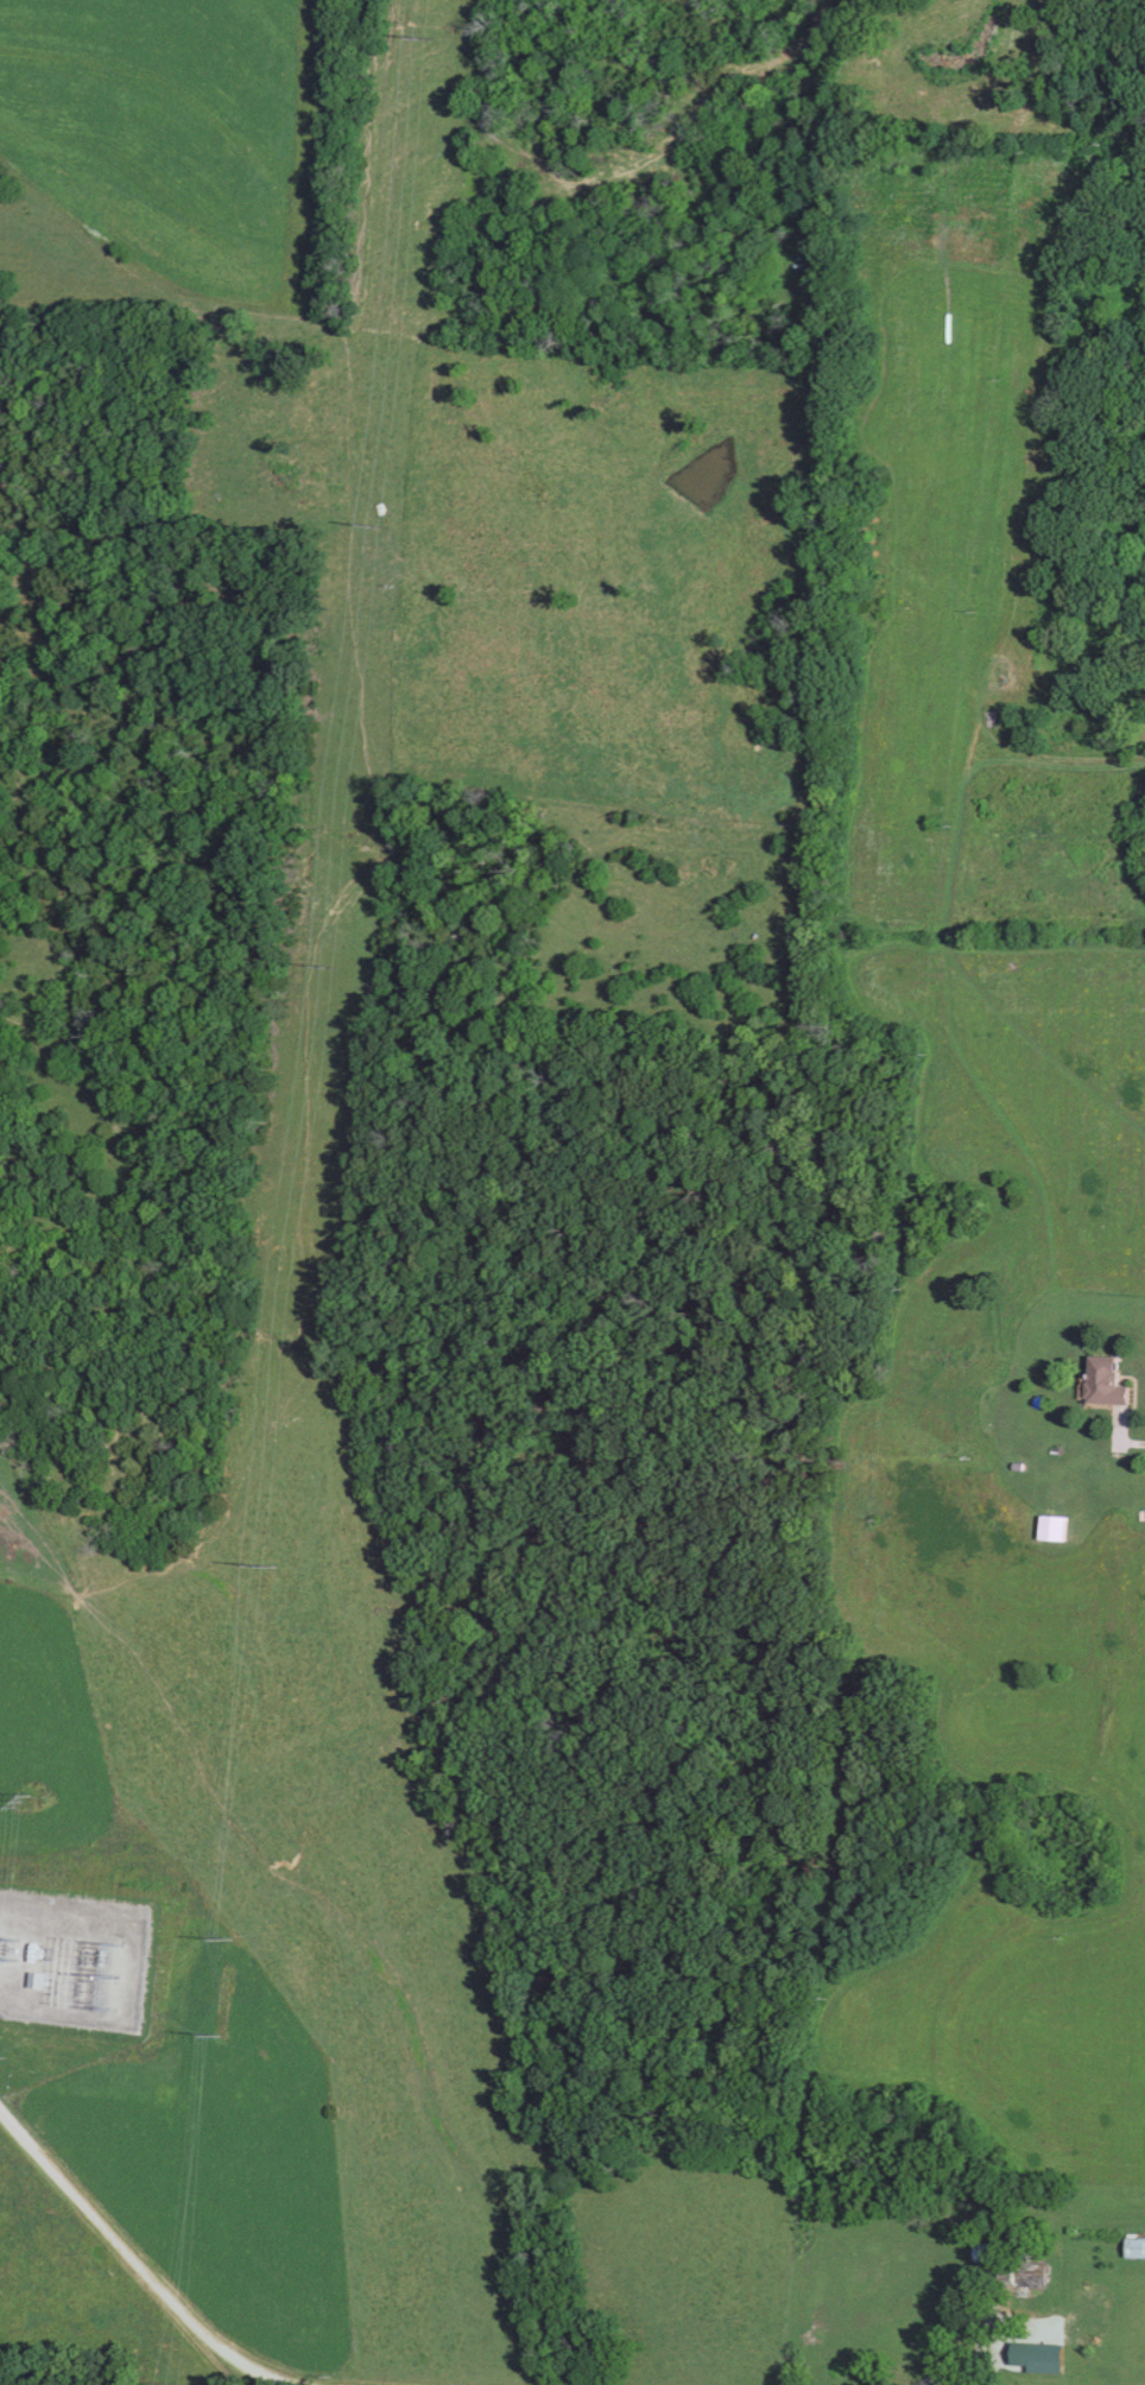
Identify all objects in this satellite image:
power tower: (417, 37)
power tower: (368, 521)
power tower: (325, 964)
building: (1101, 1380)
road: (1124, 1435)
building: (1050, 1529)
power tower: (260, 1557)
power tower: (97, 1929)
power tower: (227, 1932)
power substation: (71, 1957)
building: (34, 1981)
power tower: (216, 2033)
building: (1133, 2248)
road: (129, 2259)
building: (1008, 2266)
road: (948, 2339)
power tower: (167, 2384)

